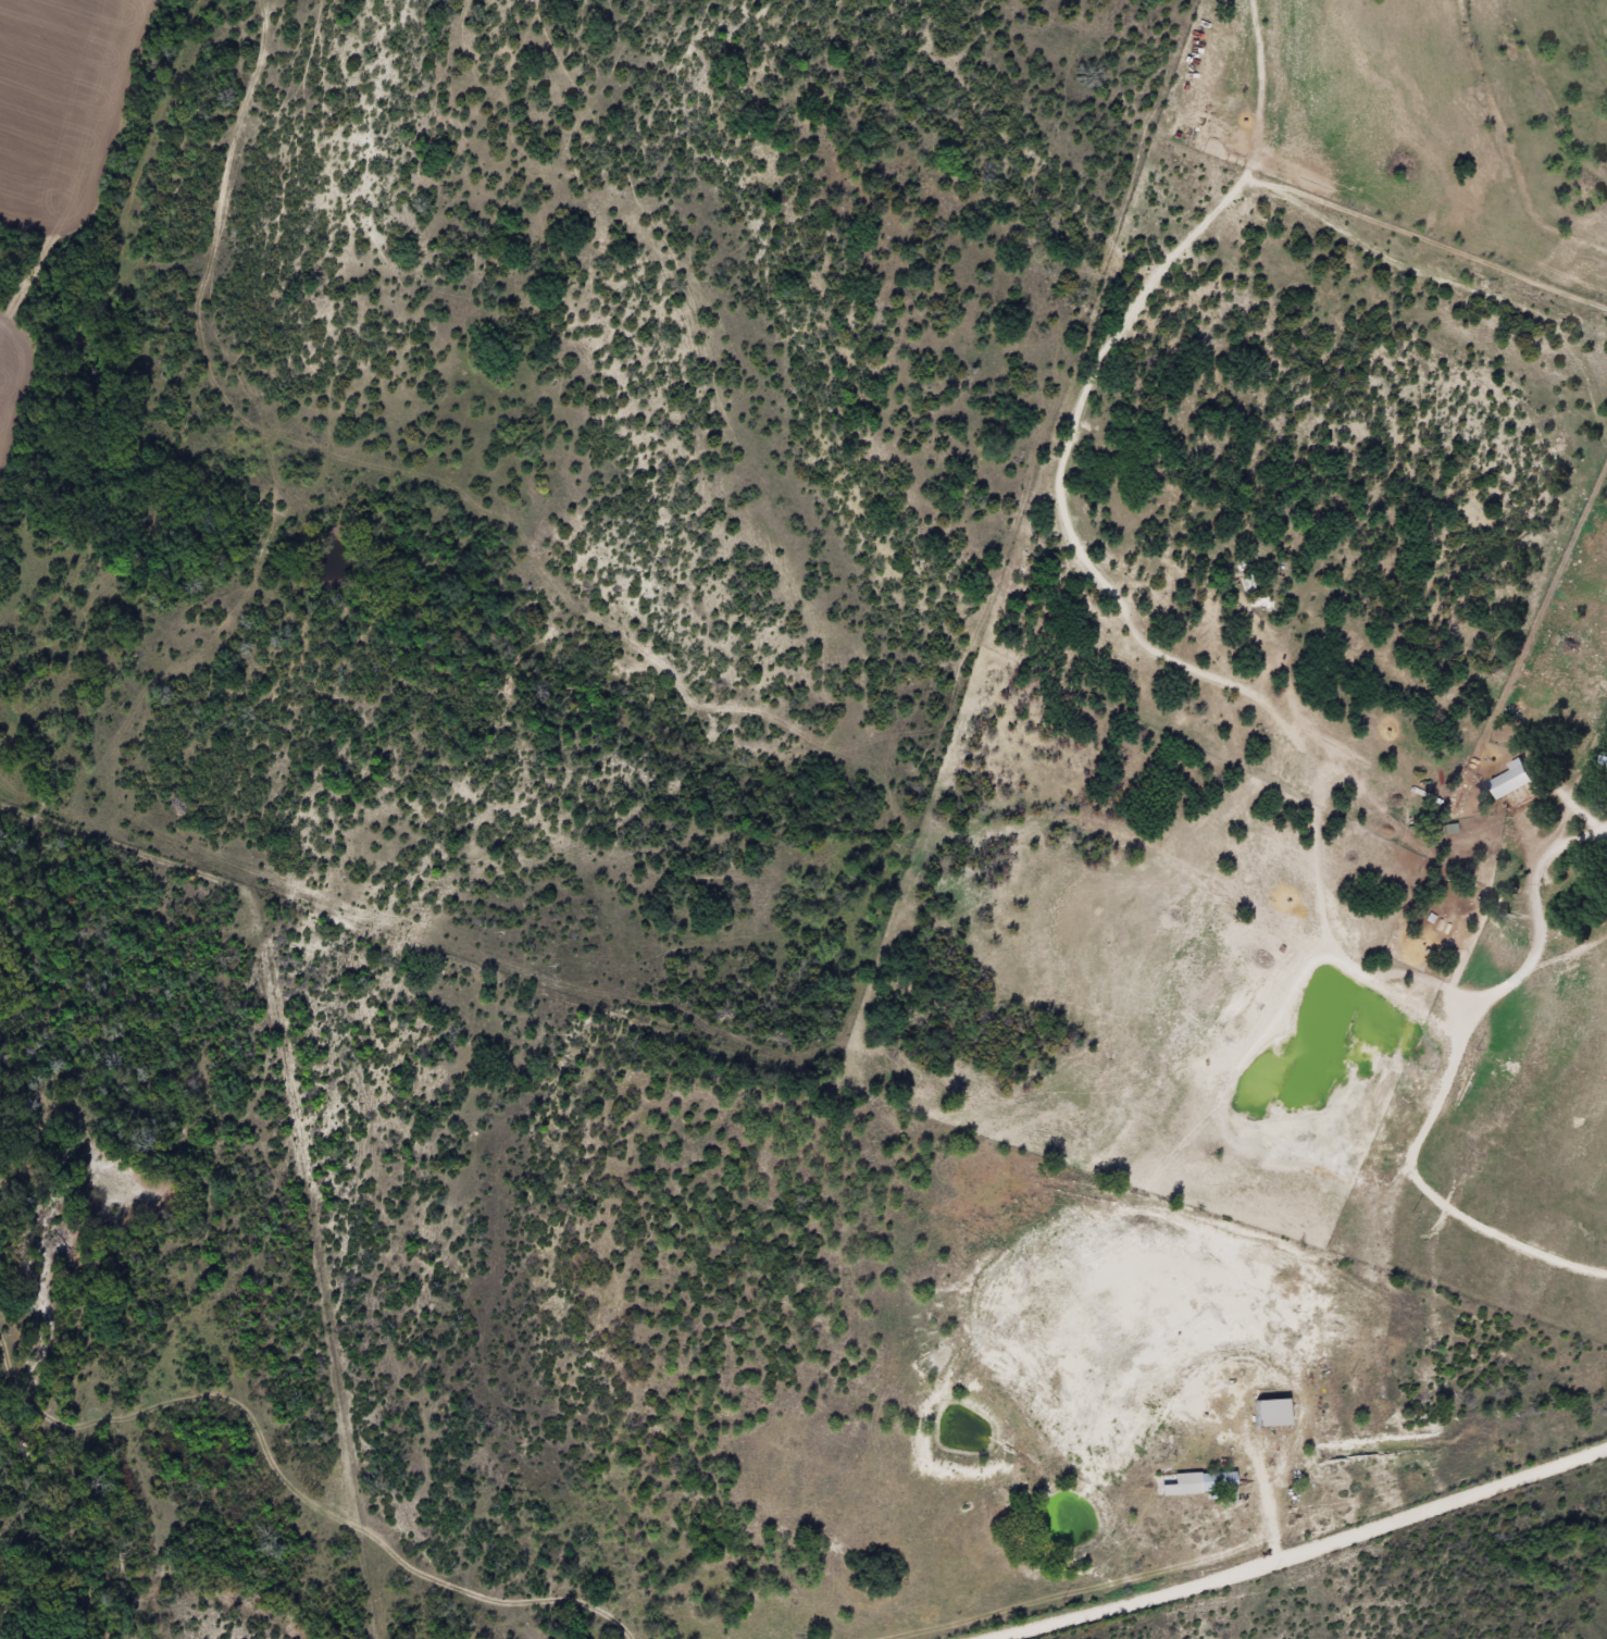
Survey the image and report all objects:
building: (1263, 1411)
building: (1194, 1483)
road: (1274, 1537)

